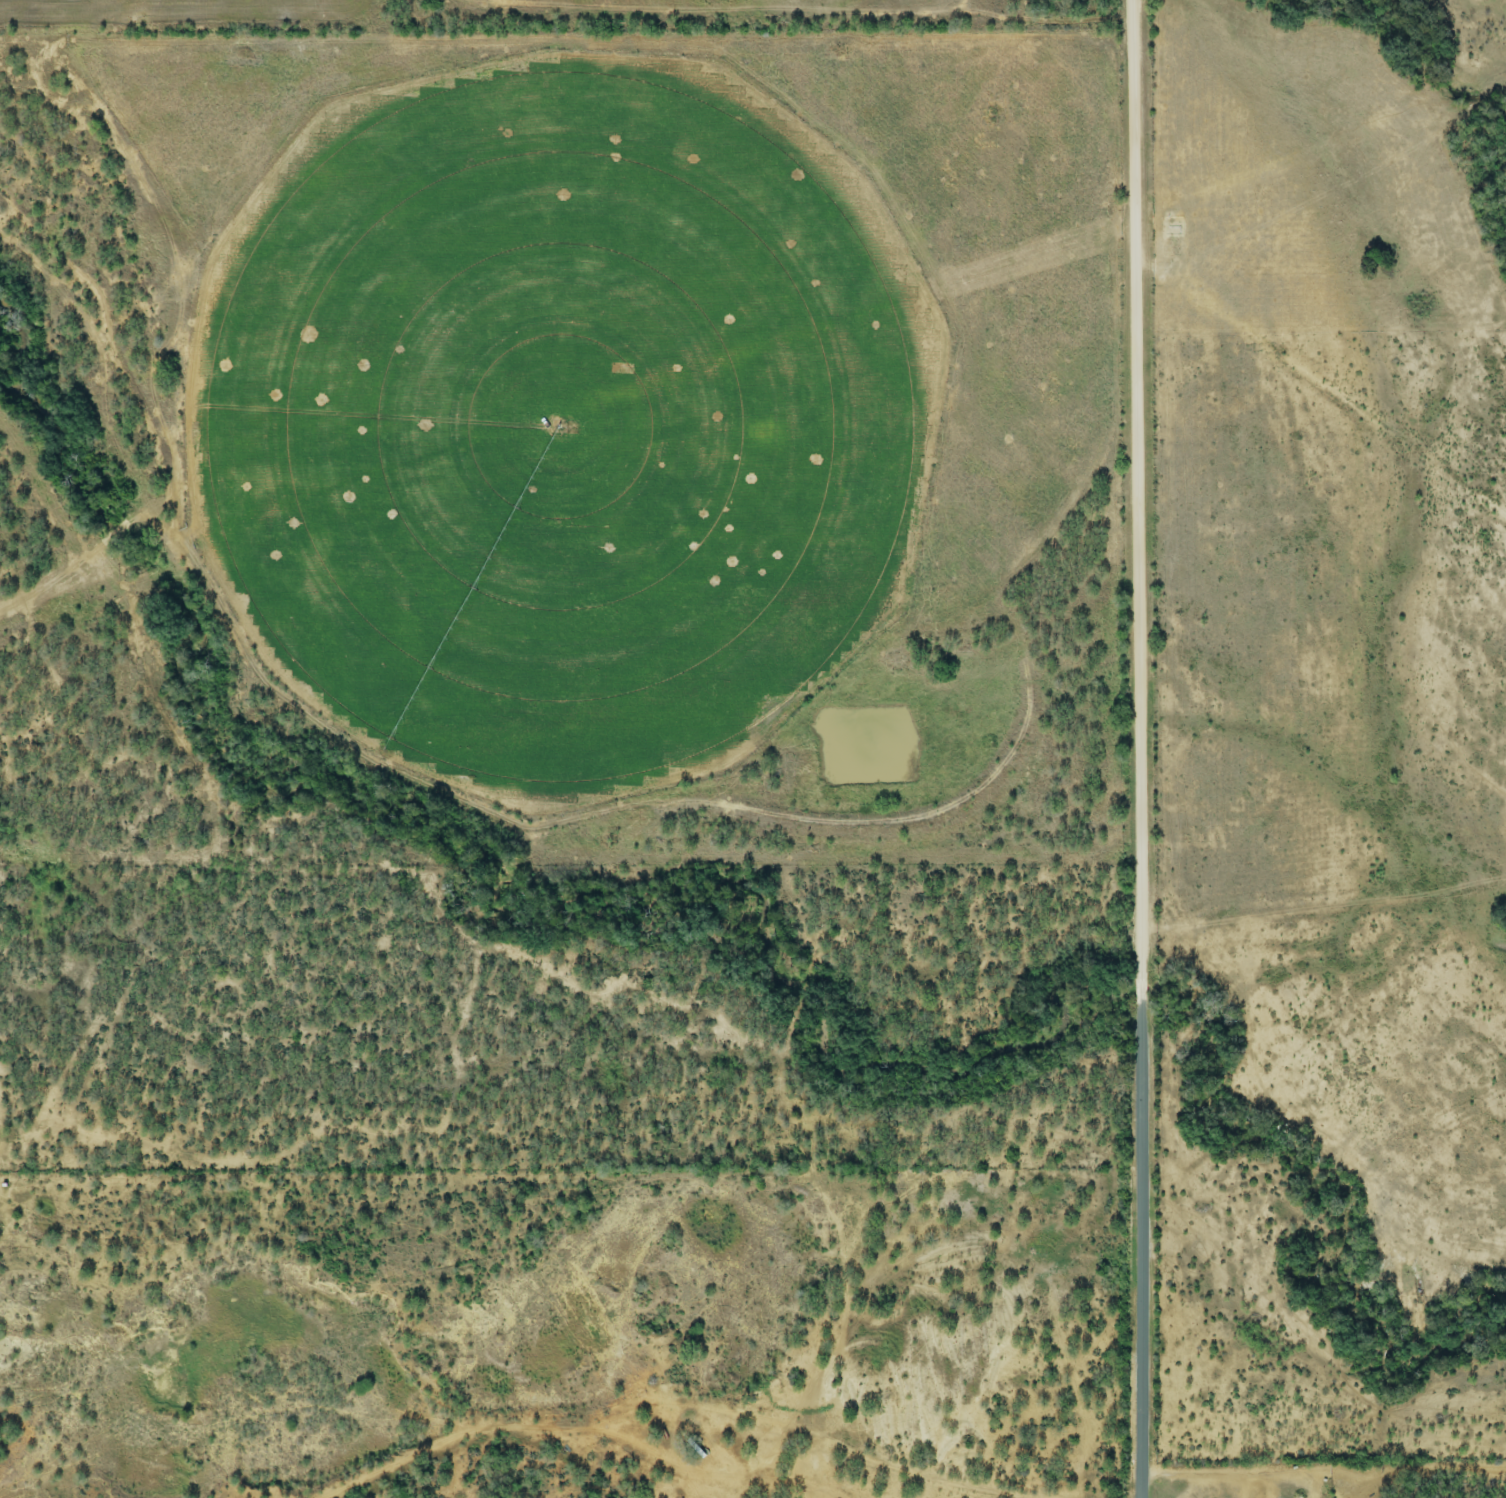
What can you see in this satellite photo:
road: (1143, 749)
road: (1326, 917)

